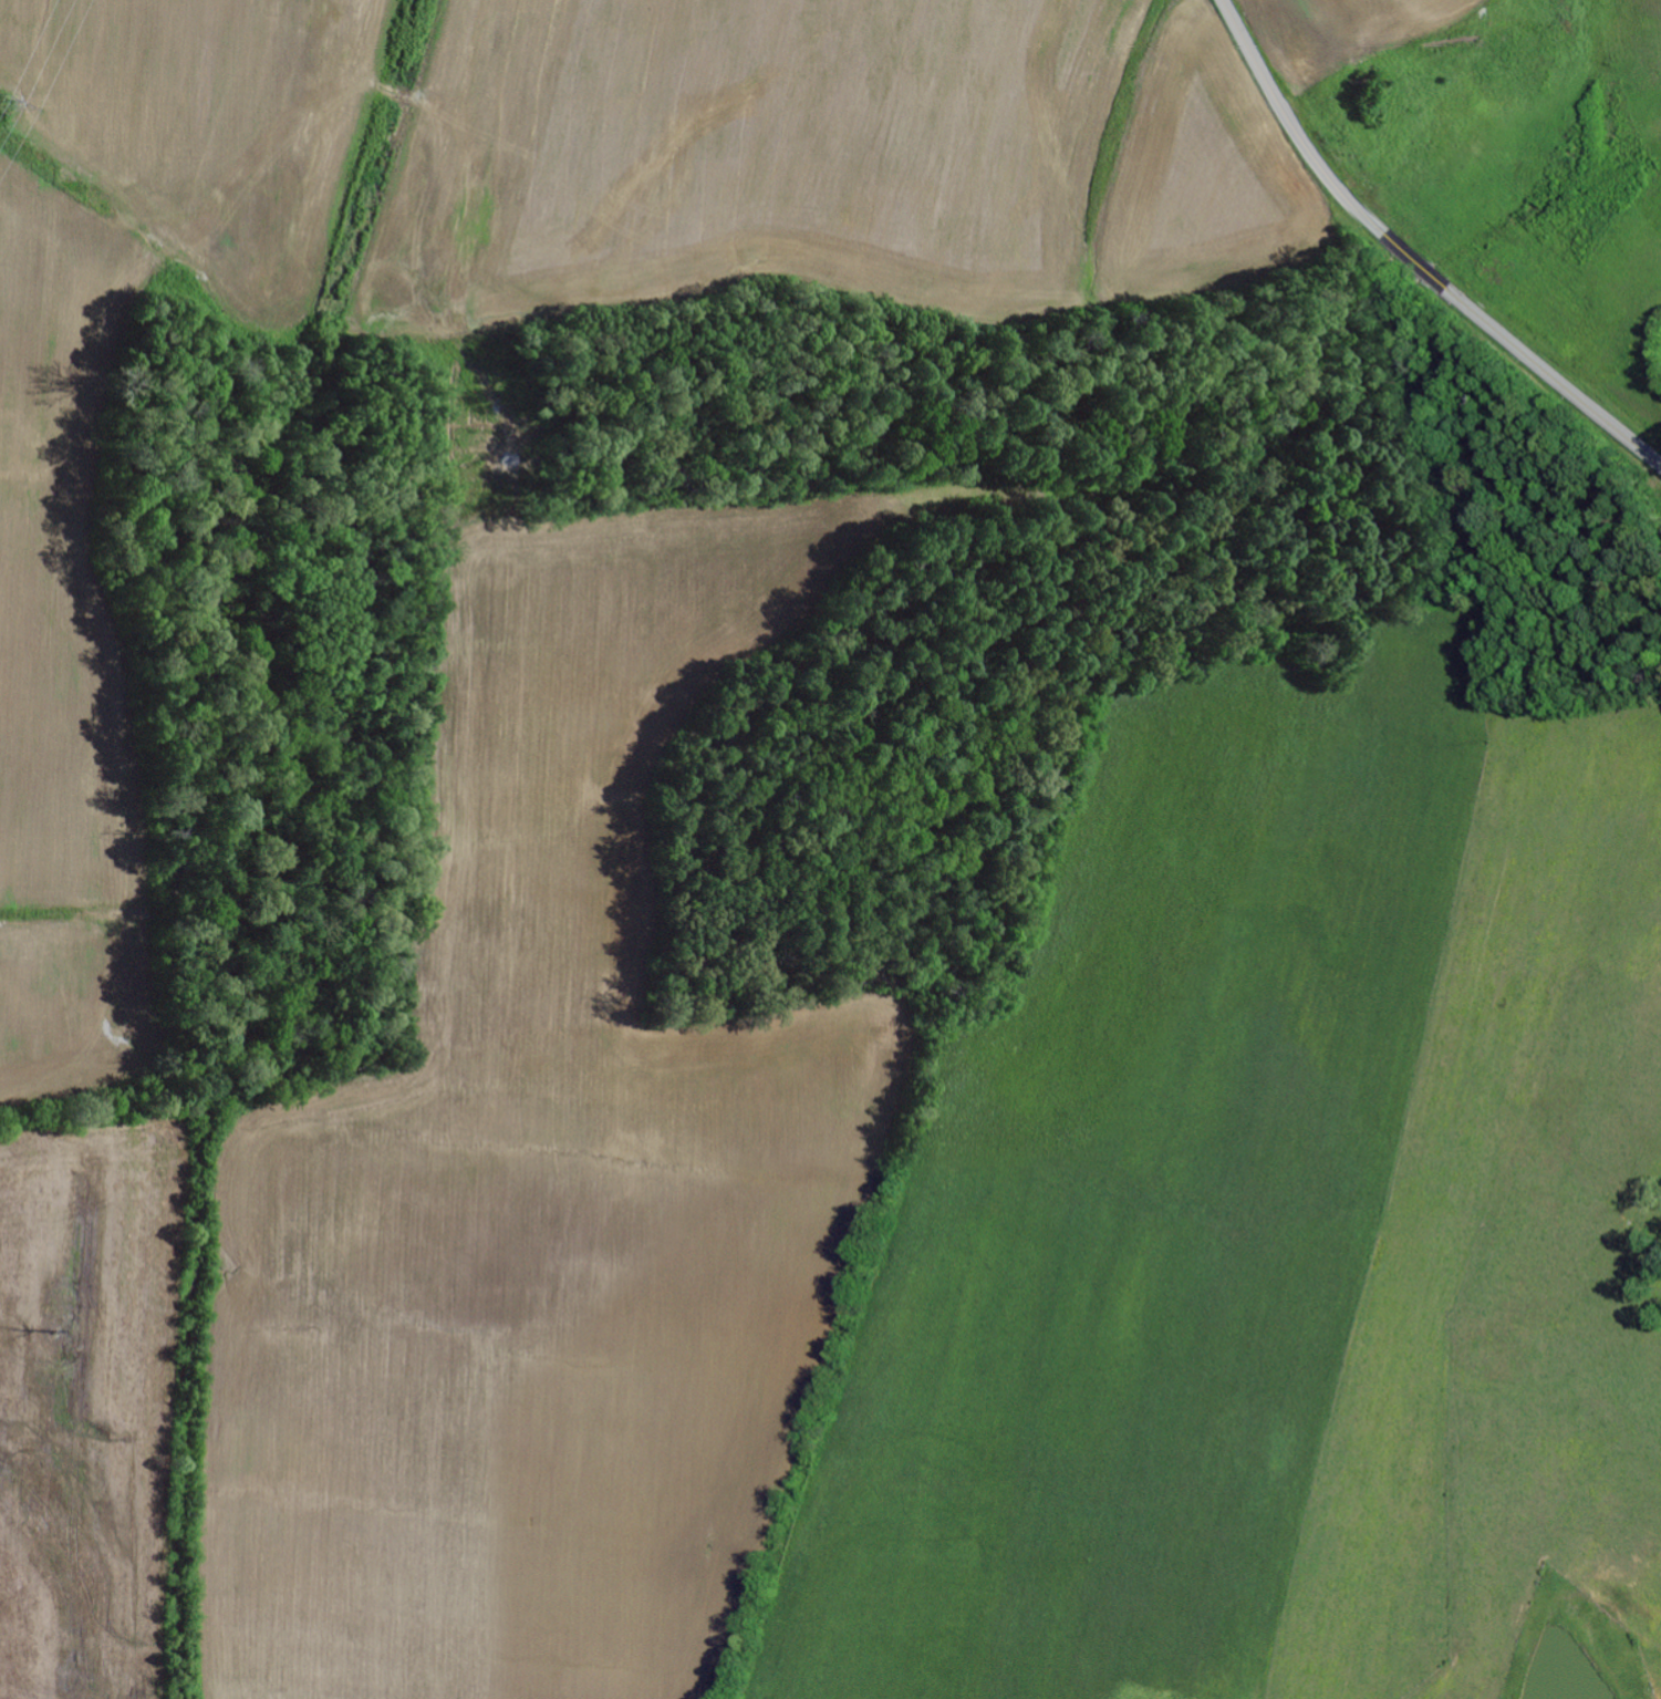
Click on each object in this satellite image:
power tower: (3, 103)
road: (1412, 261)

